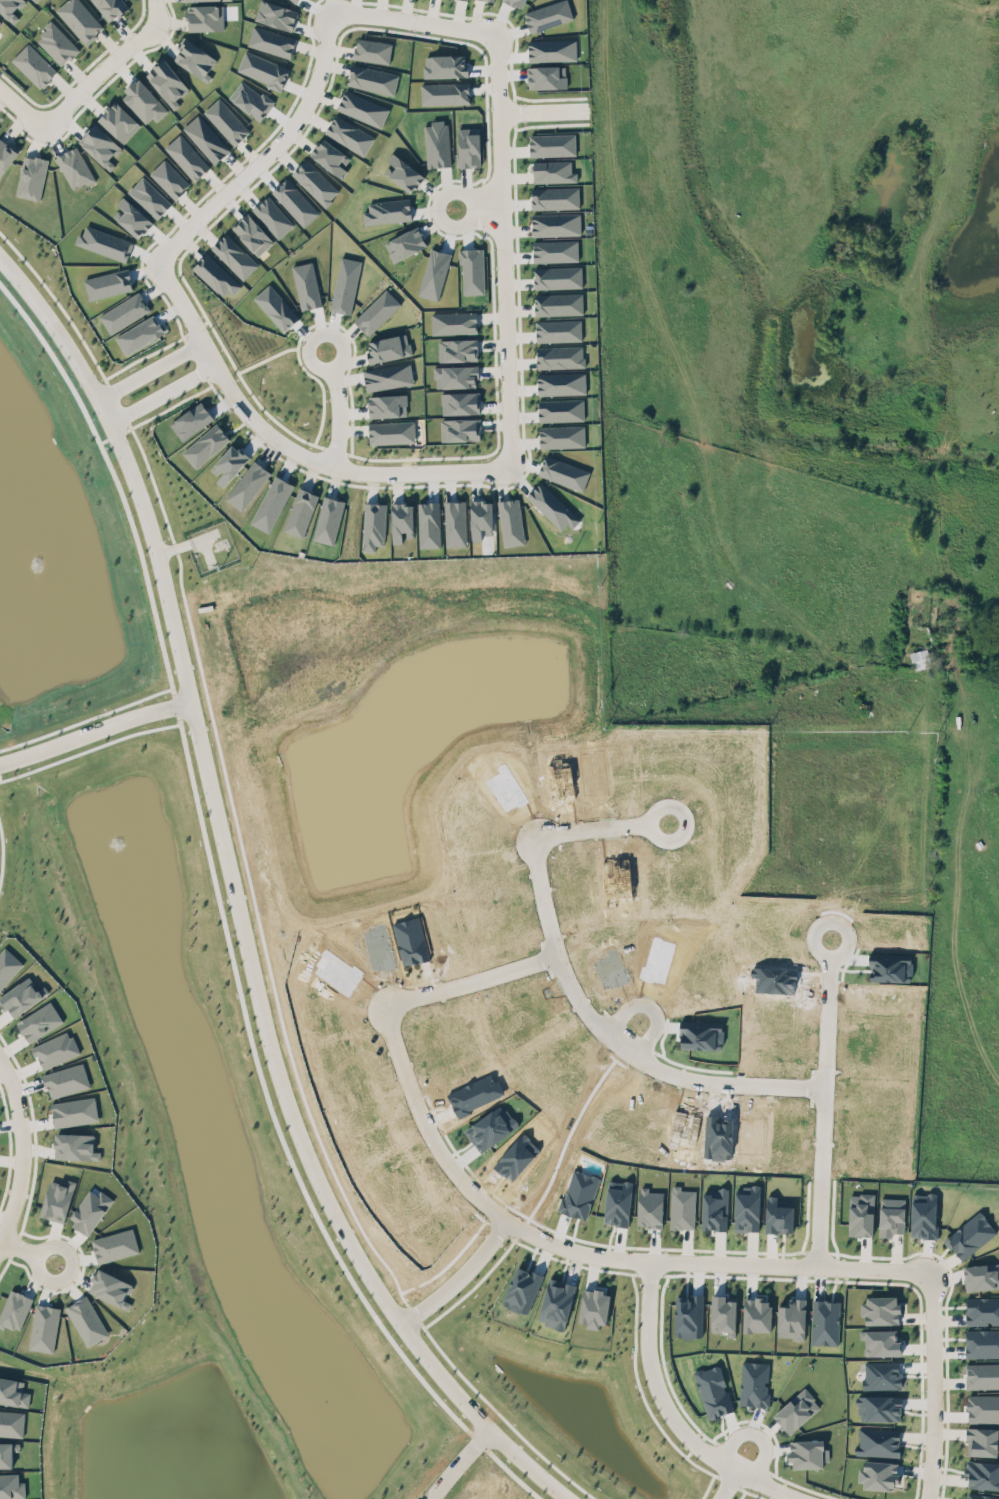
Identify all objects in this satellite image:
building: (190, 0)
building: (294, 0)
building: (492, 0)
building: (516, 2)
road: (980, 2)
building: (110, 7)
building: (9, 8)
building: (275, 11)
building: (547, 15)
building: (205, 17)
building: (78, 18)
building: (0, 19)
building: (0, 21)
building: (269, 37)
building: (56, 41)
building: (550, 47)
building: (373, 50)
building: (195, 58)
building: (31, 62)
building: (445, 65)
building: (263, 69)
building: (545, 74)
building: (370, 77)
building: (166, 80)
road: (85, 86)
building: (442, 90)
building: (251, 99)
building: (143, 101)
building: (363, 108)
building: (225, 118)
building: (119, 121)
building: (349, 134)
building: (206, 138)
building: (436, 143)
building: (466, 144)
building: (552, 144)
building: (100, 145)
road: (499, 146)
building: (6, 154)
building: (187, 156)
building: (331, 157)
building: (74, 167)
building: (402, 169)
building: (553, 171)
building: (31, 177)
building: (169, 178)
building: (315, 181)
building: (553, 195)
building: (149, 197)
building: (295, 201)
building: (388, 211)
building: (271, 214)
building: (132, 217)
building: (556, 223)
building: (252, 234)
building: (403, 239)
building: (555, 250)
building: (234, 255)
building: (472, 270)
building: (434, 274)
building: (216, 275)
building: (557, 277)
building: (108, 283)
building: (345, 284)
building: (306, 285)
building: (558, 303)
building: (276, 307)
building: (377, 311)
building: (124, 312)
building: (454, 322)
building: (558, 329)
building: (139, 334)
building: (387, 345)
building: (456, 347)
building: (560, 356)
road: (151, 369)
road: (87, 376)
building: (388, 376)
building: (456, 376)
building: (561, 383)
road: (162, 392)
building: (457, 398)
building: (387, 405)
road: (334, 406)
building: (561, 409)
building: (460, 429)
building: (391, 431)
building: (562, 436)
building: (205, 445)
building: (564, 472)
building: (248, 484)
building: (271, 503)
building: (301, 511)
building: (328, 519)
building: (481, 519)
building: (508, 519)
building: (401, 521)
building: (427, 521)
building: (455, 523)
building: (374, 525)
building: (920, 658)
road: (95, 733)
road: (590, 831)
road: (846, 949)
building: (8, 965)
building: (20, 996)
road: (650, 1008)
road: (586, 1013)
road: (826, 1025)
road: (271, 1047)
building: (55, 1049)
building: (66, 1080)
building: (74, 1111)
road: (20, 1146)
building: (75, 1146)
building: (650, 1207)
building: (682, 1207)
building: (747, 1208)
building: (715, 1209)
building: (779, 1214)
building: (923, 1214)
building: (891, 1216)
building: (970, 1235)
road: (28, 1249)
road: (687, 1262)
road: (458, 1276)
building: (111, 1288)
building: (521, 1289)
building: (556, 1302)
building: (594, 1307)
building: (881, 1309)
building: (982, 1310)
building: (756, 1314)
building: (791, 1318)
building: (86, 1320)
building: (825, 1321)
building: (44, 1327)
building: (881, 1342)
building: (982, 1342)
building: (754, 1383)
road: (933, 1388)
building: (713, 1391)
building: (13, 1392)
building: (879, 1407)
building: (796, 1410)
road: (671, 1414)
building: (11, 1422)
road: (755, 1434)
building: (878, 1441)
building: (807, 1453)
road: (464, 1463)
building: (982, 1474)
road: (728, 1485)
building: (981, 1496)

